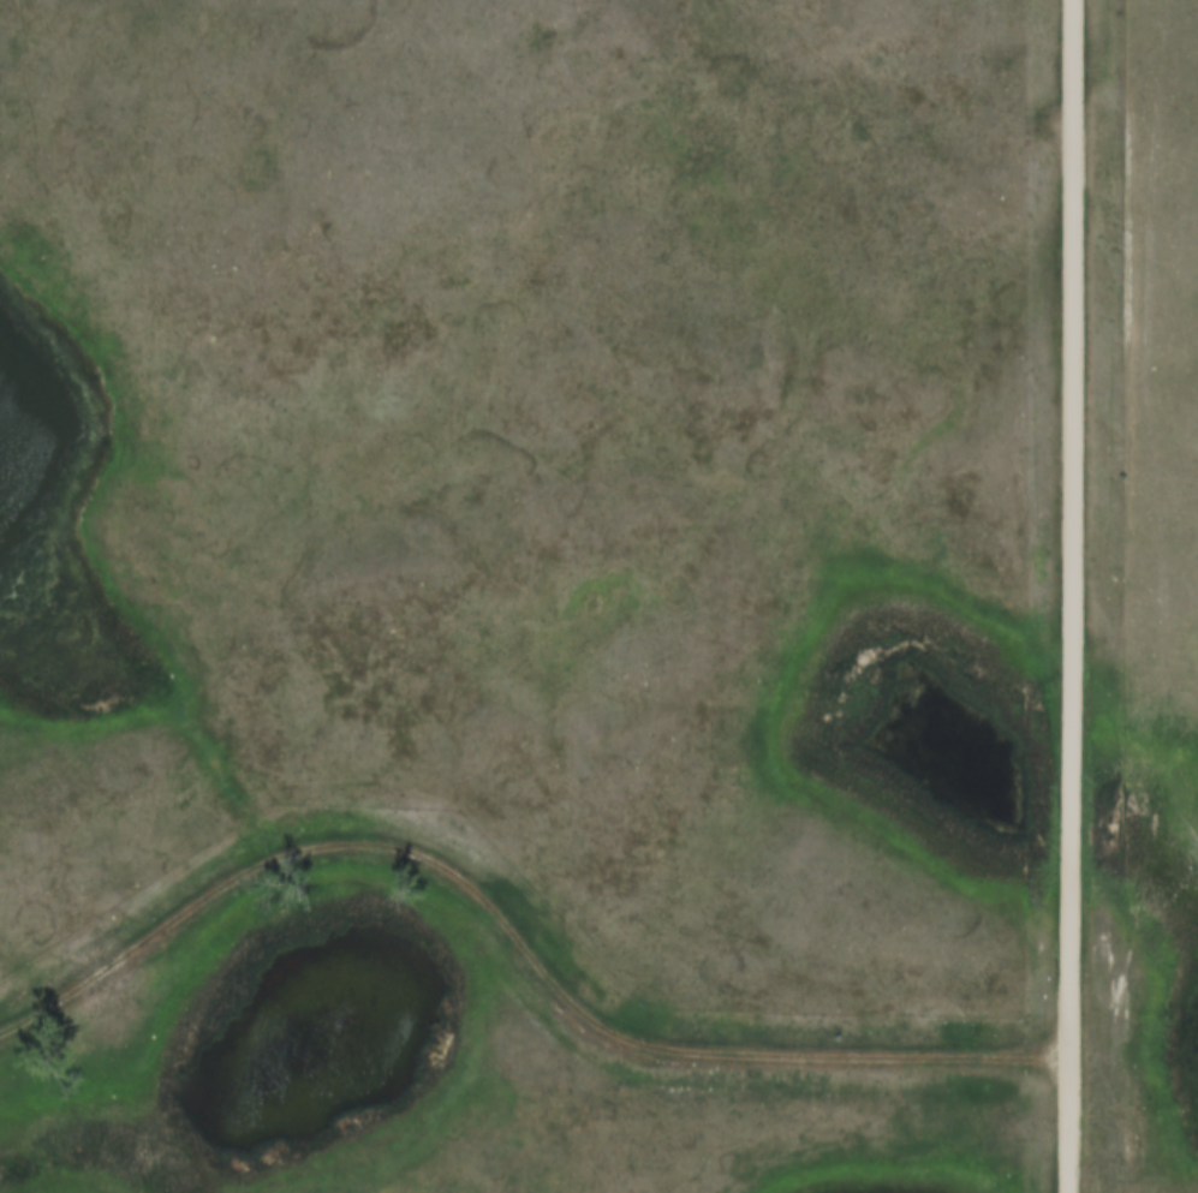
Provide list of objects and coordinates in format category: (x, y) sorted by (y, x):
road: (1073, 596)
road: (517, 931)

